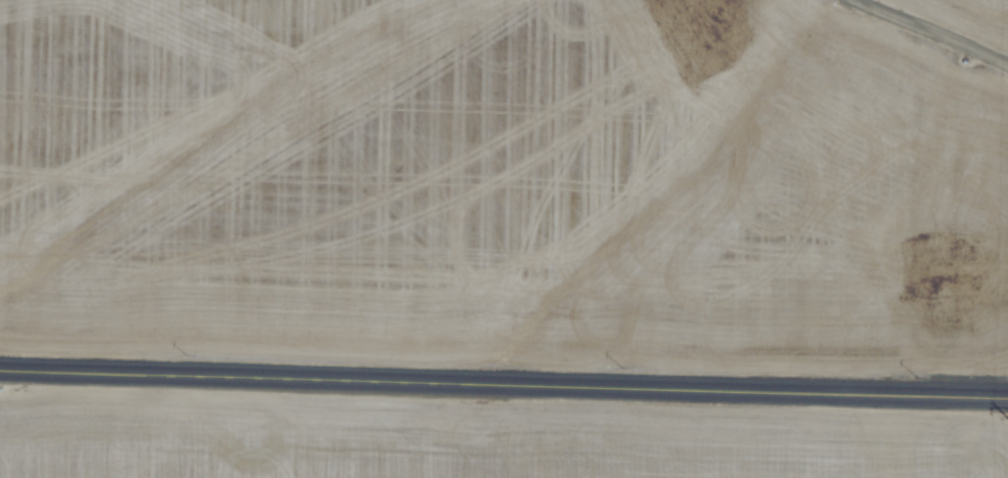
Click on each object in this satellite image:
road: (941, 28)
road: (504, 371)

